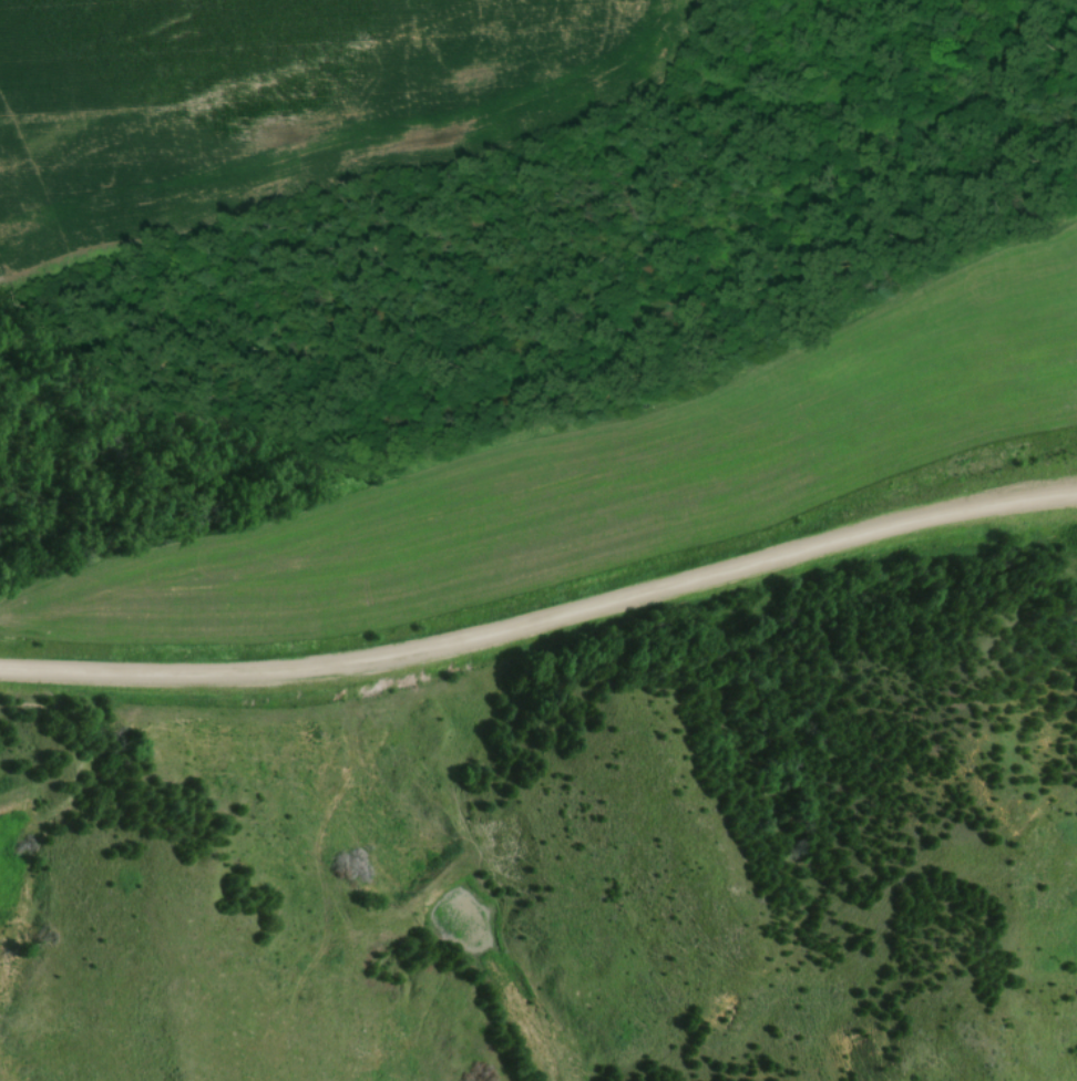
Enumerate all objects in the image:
road: (543, 622)

